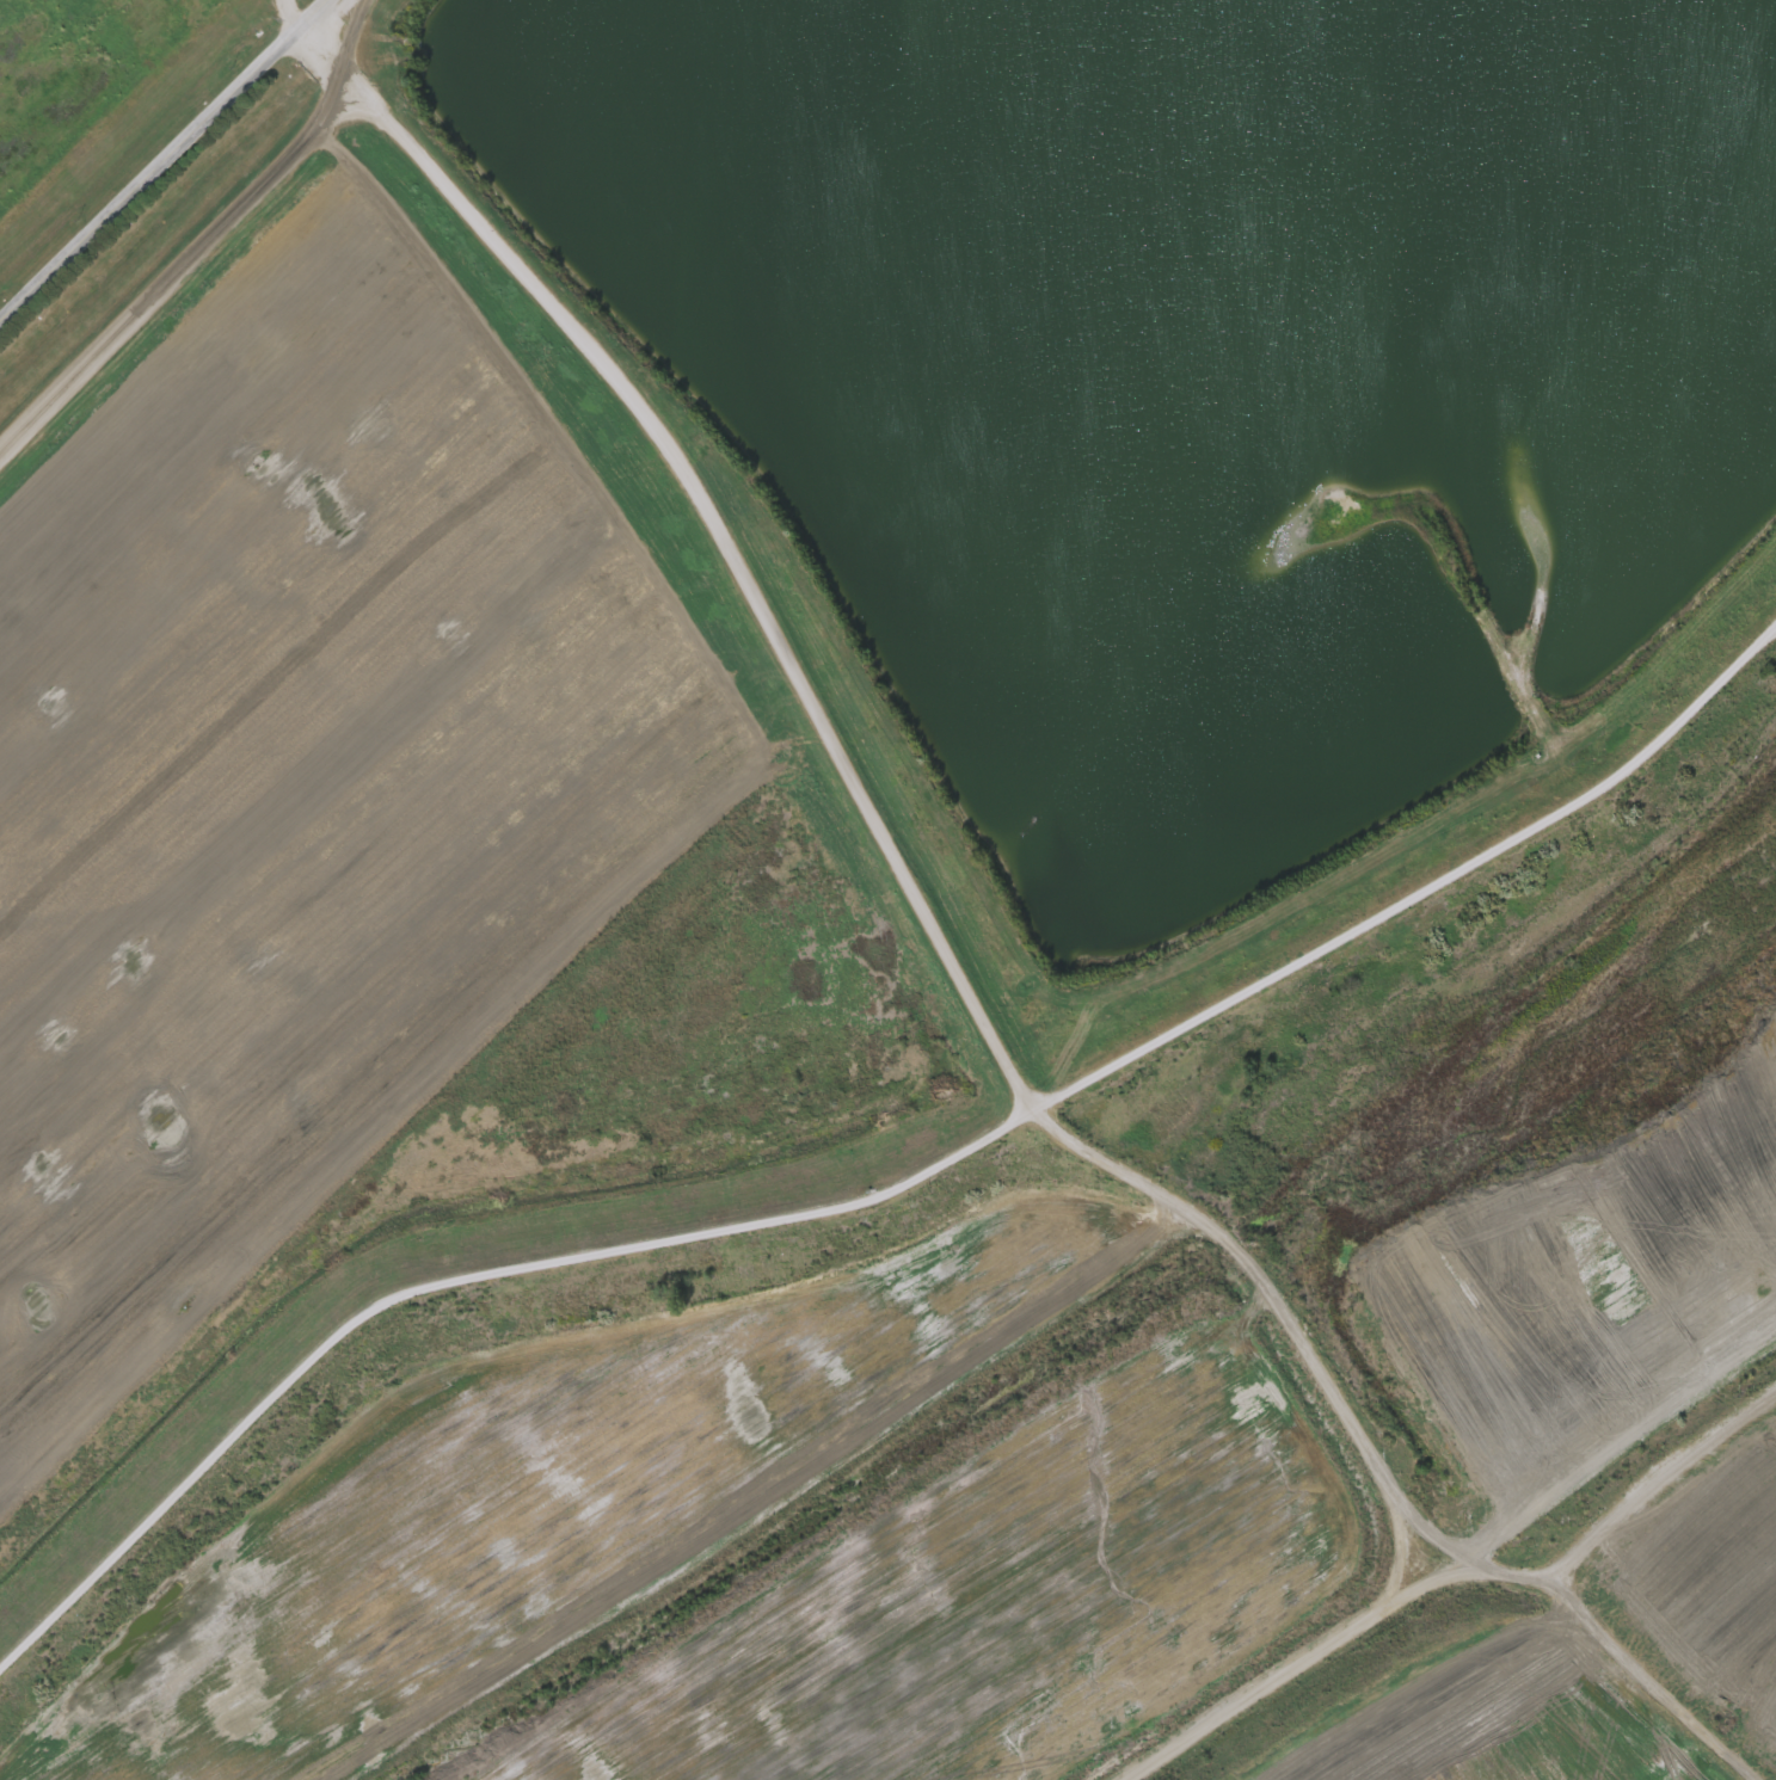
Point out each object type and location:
road: (302, 16)
road: (330, 68)
road: (171, 170)
road: (174, 282)
road: (749, 567)
wastewater plant: (887, 889)
road: (891, 1191)

